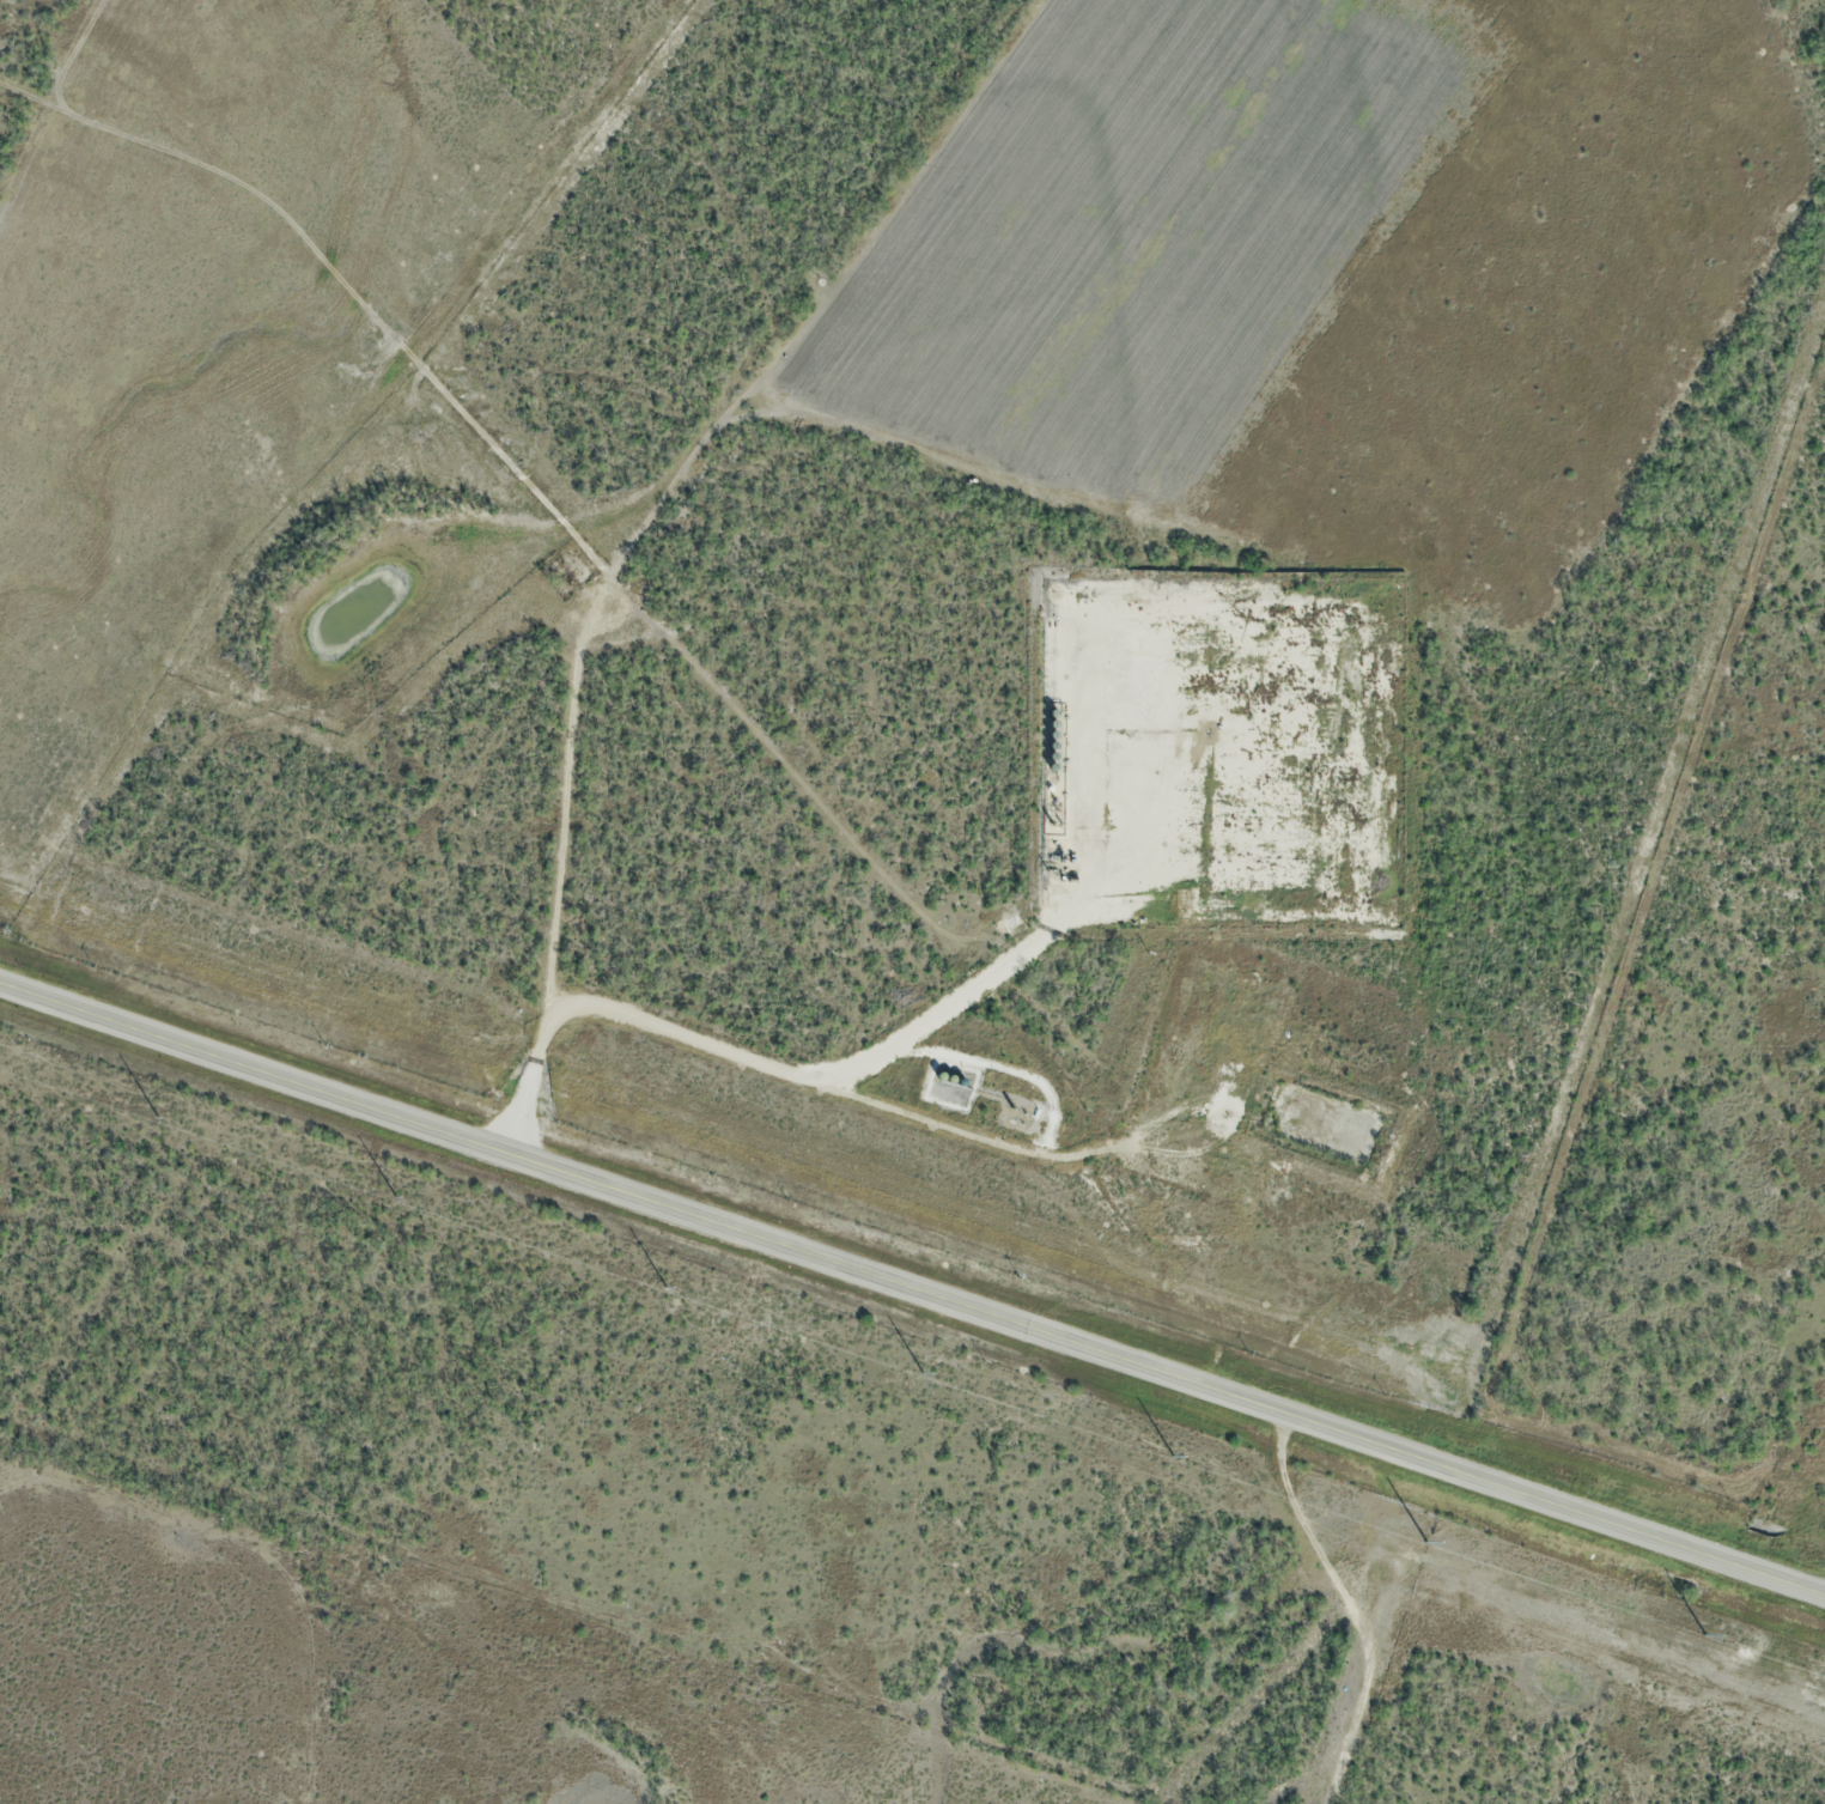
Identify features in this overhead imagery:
power tower: (157, 1114)
power tower: (395, 1193)
power tower: (665, 1288)
road: (912, 1289)
power tower: (920, 1371)
power tower: (1174, 1456)
power tower: (1429, 1542)
road: (1342, 1605)
power tower: (1705, 1634)

